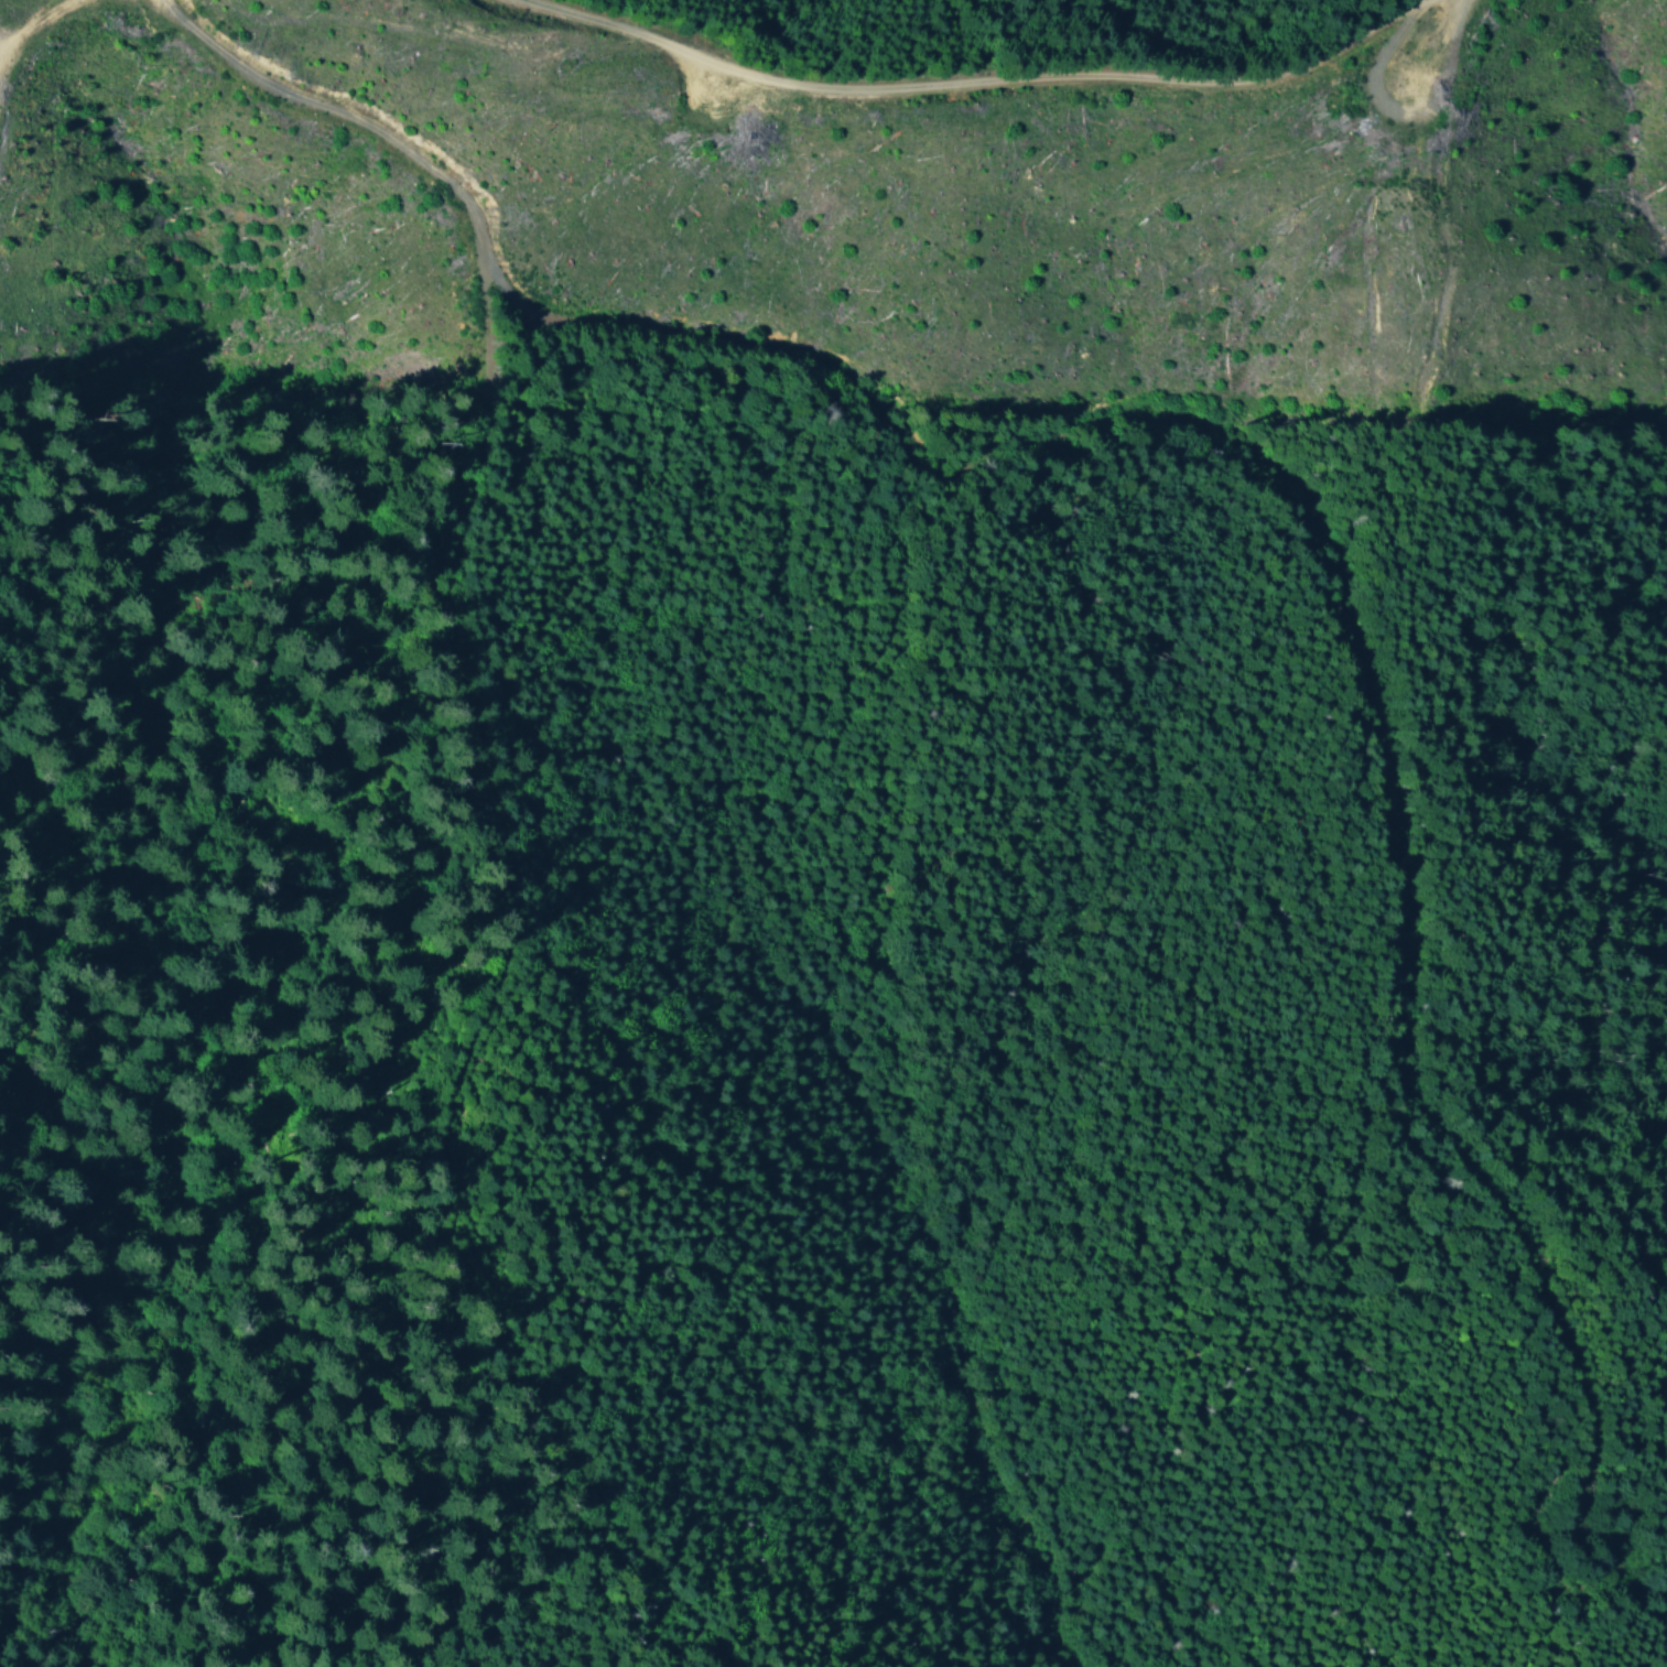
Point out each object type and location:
road: (978, 79)
road: (1168, 420)
road: (486, 994)

